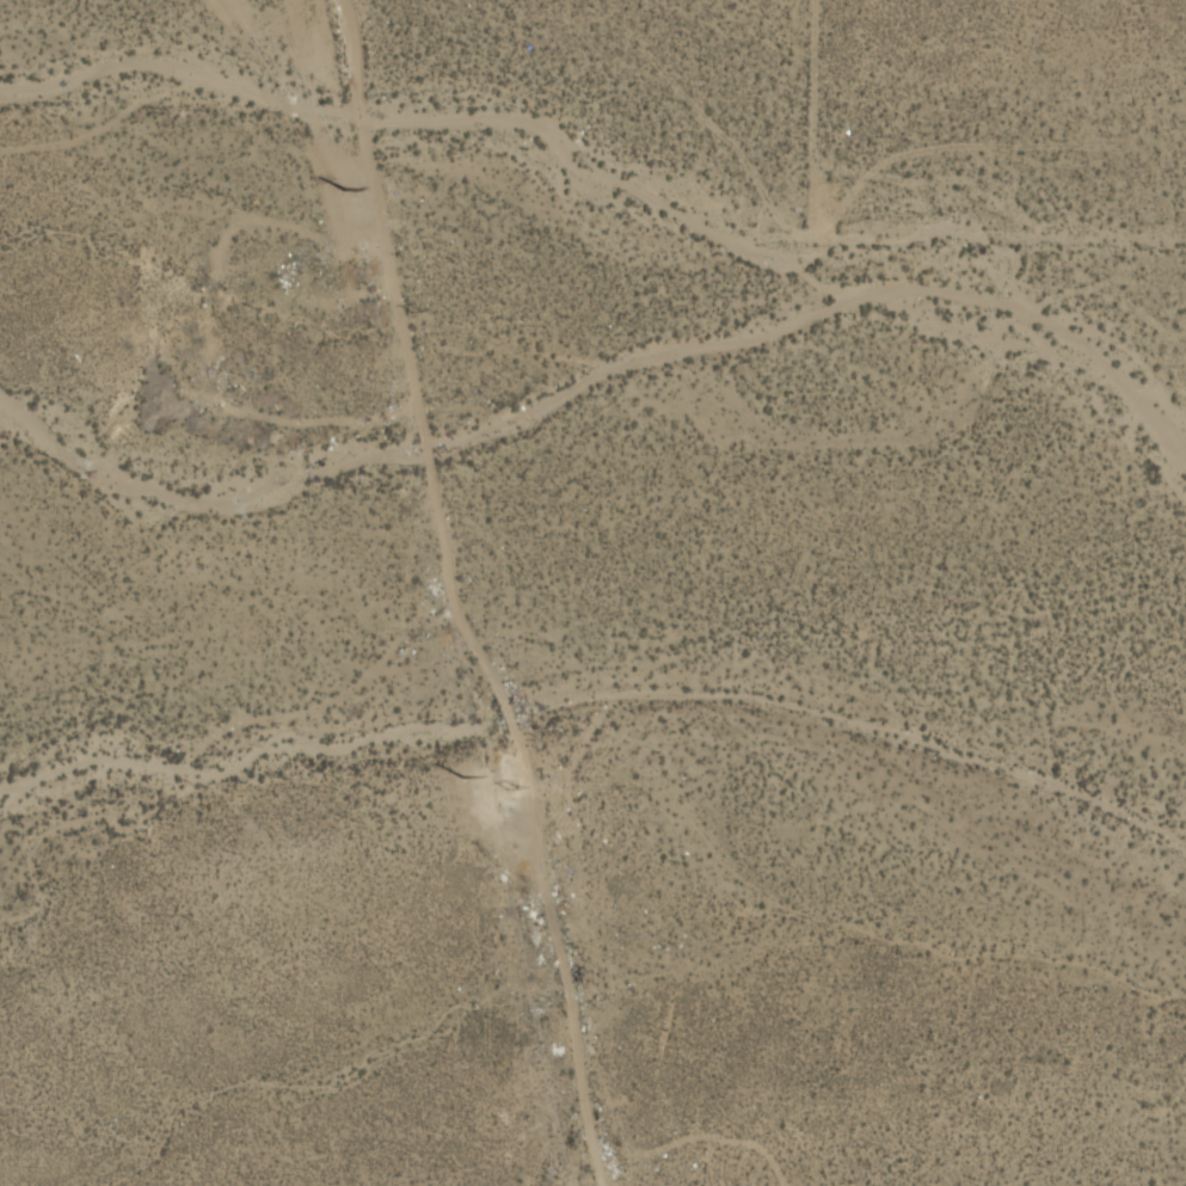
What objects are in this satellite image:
power tower: (345, 188)
power tower: (416, 313)
power tower: (462, 776)
power tower: (512, 787)

